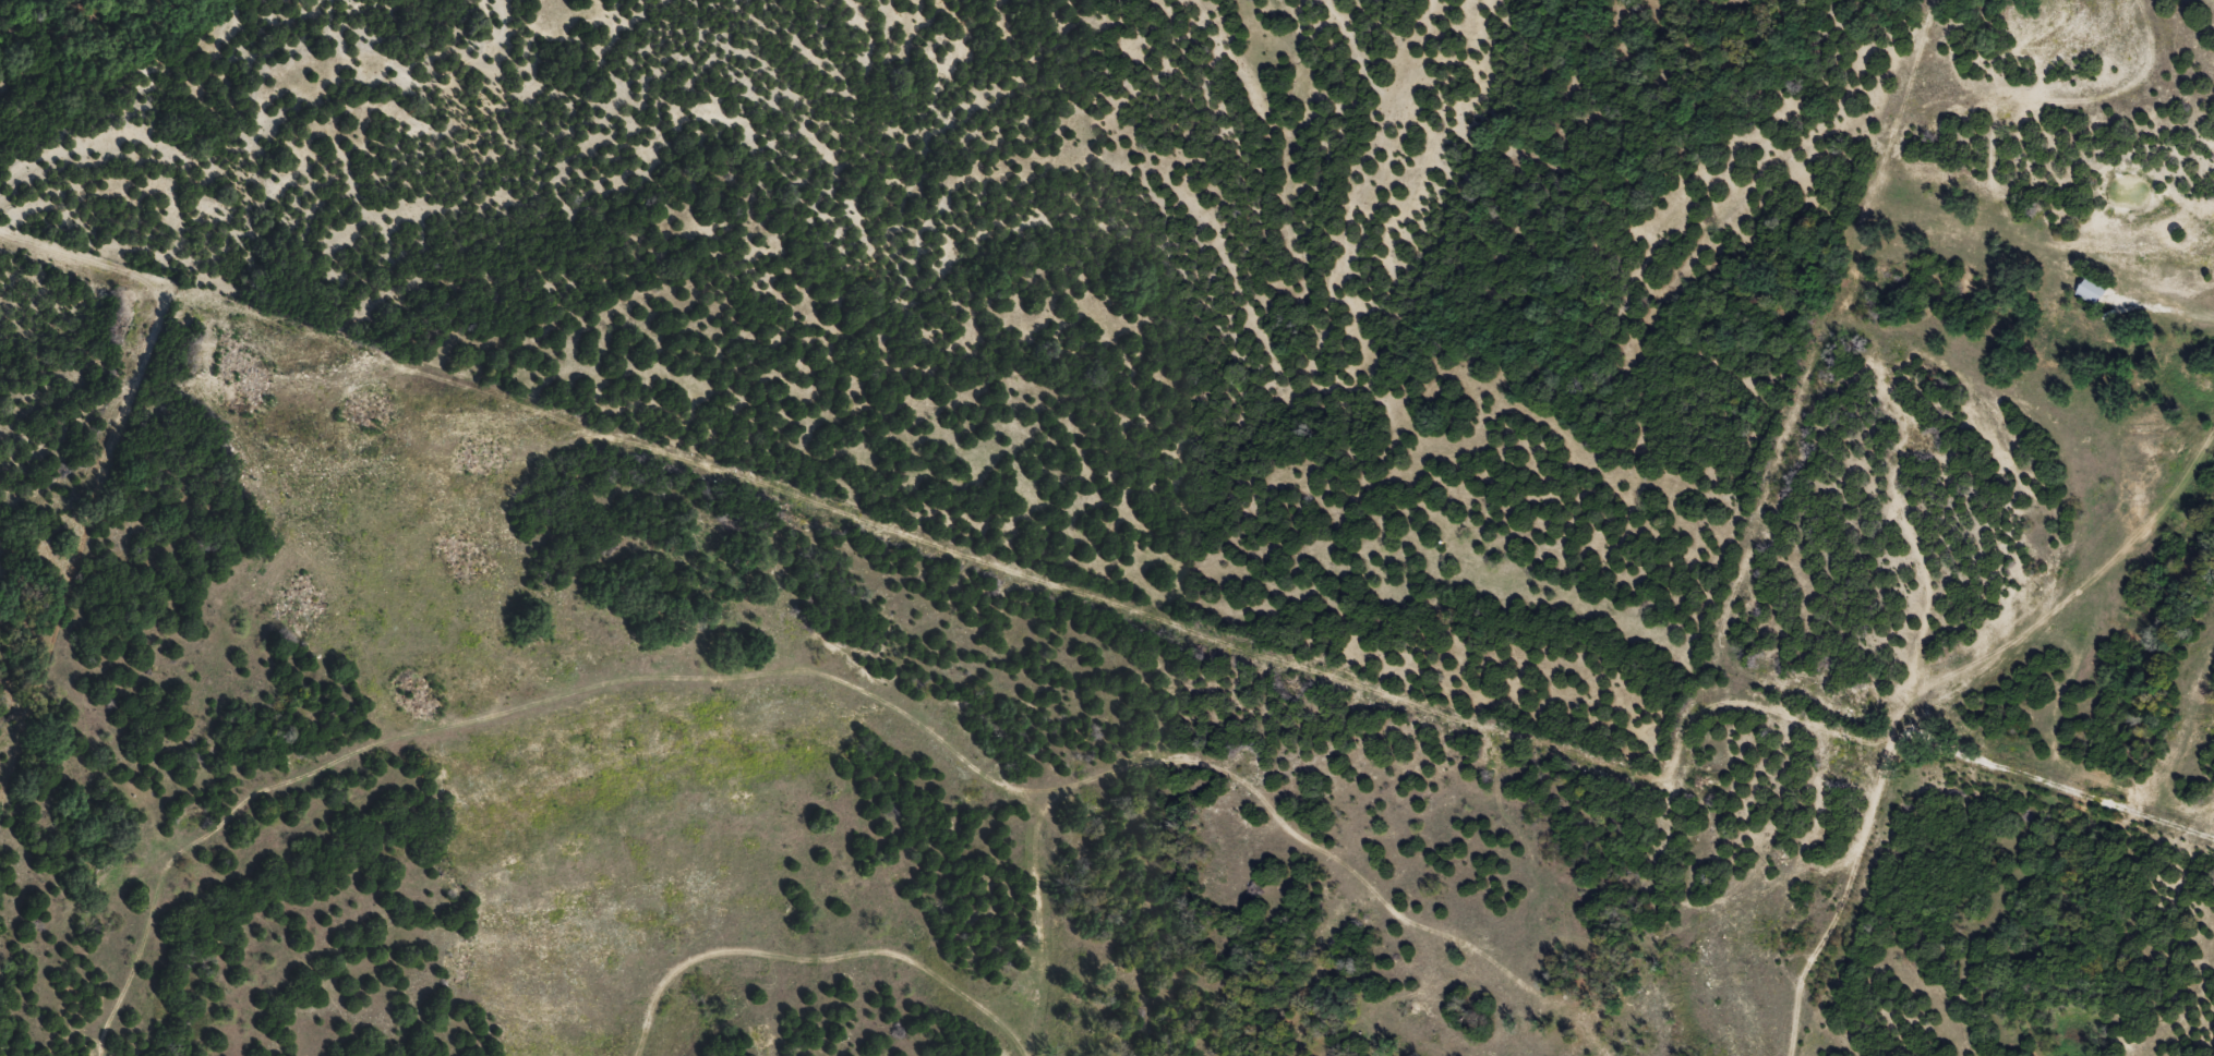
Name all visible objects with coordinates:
building: (2092, 293)

